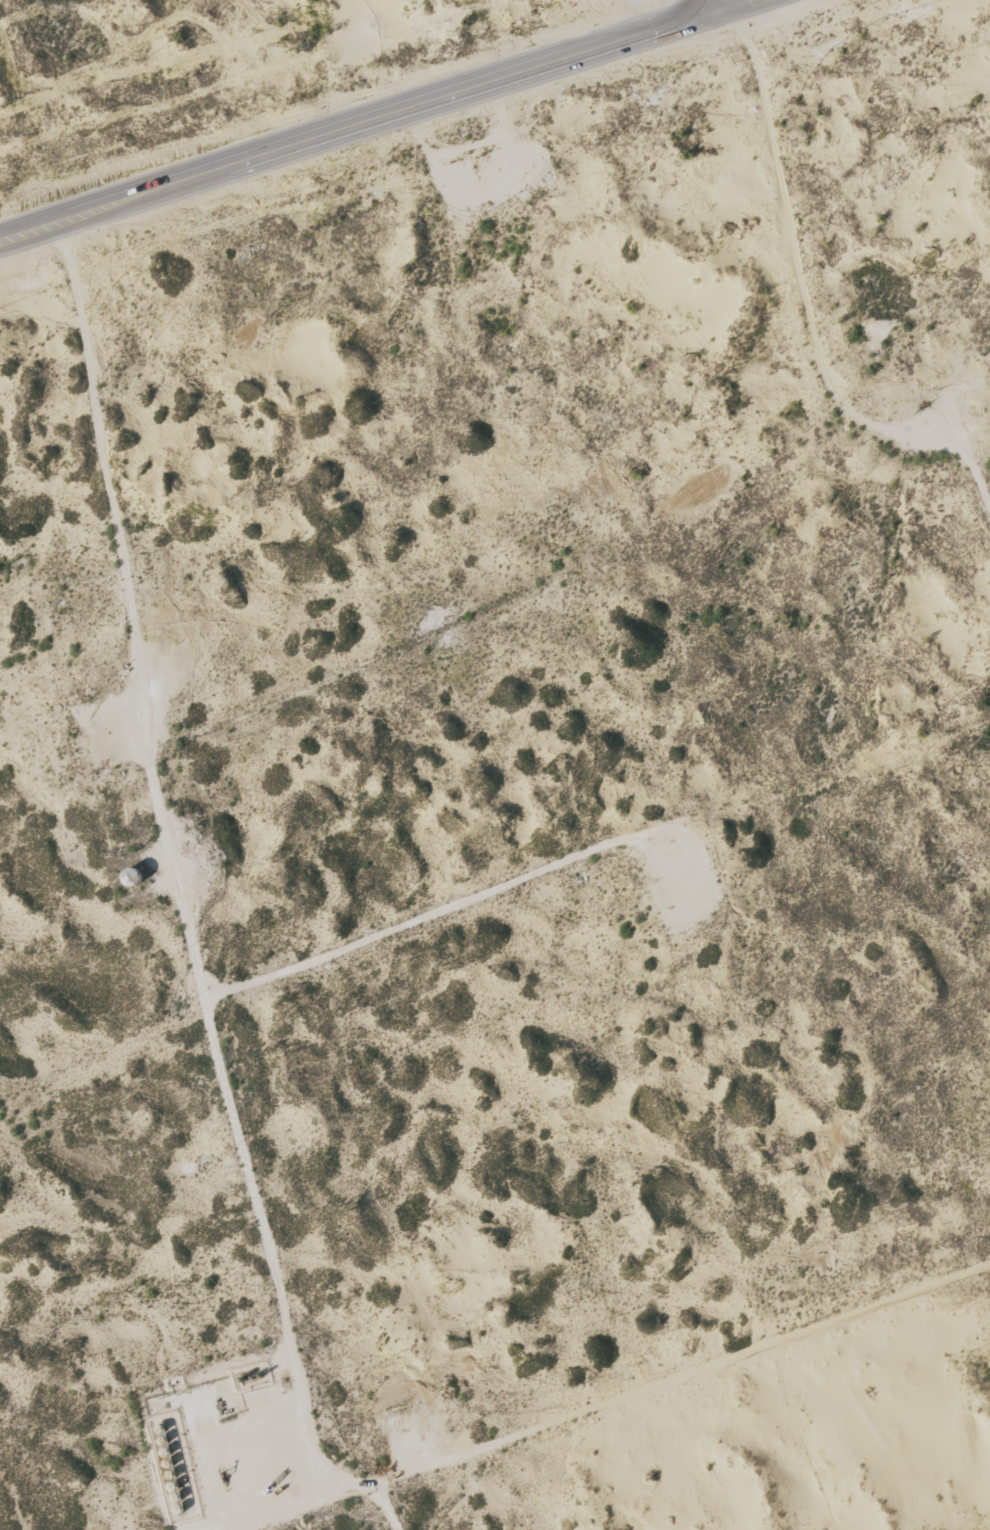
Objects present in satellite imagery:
road: (714, 2)
road: (365, 117)
road: (191, 951)
road: (686, 1413)

